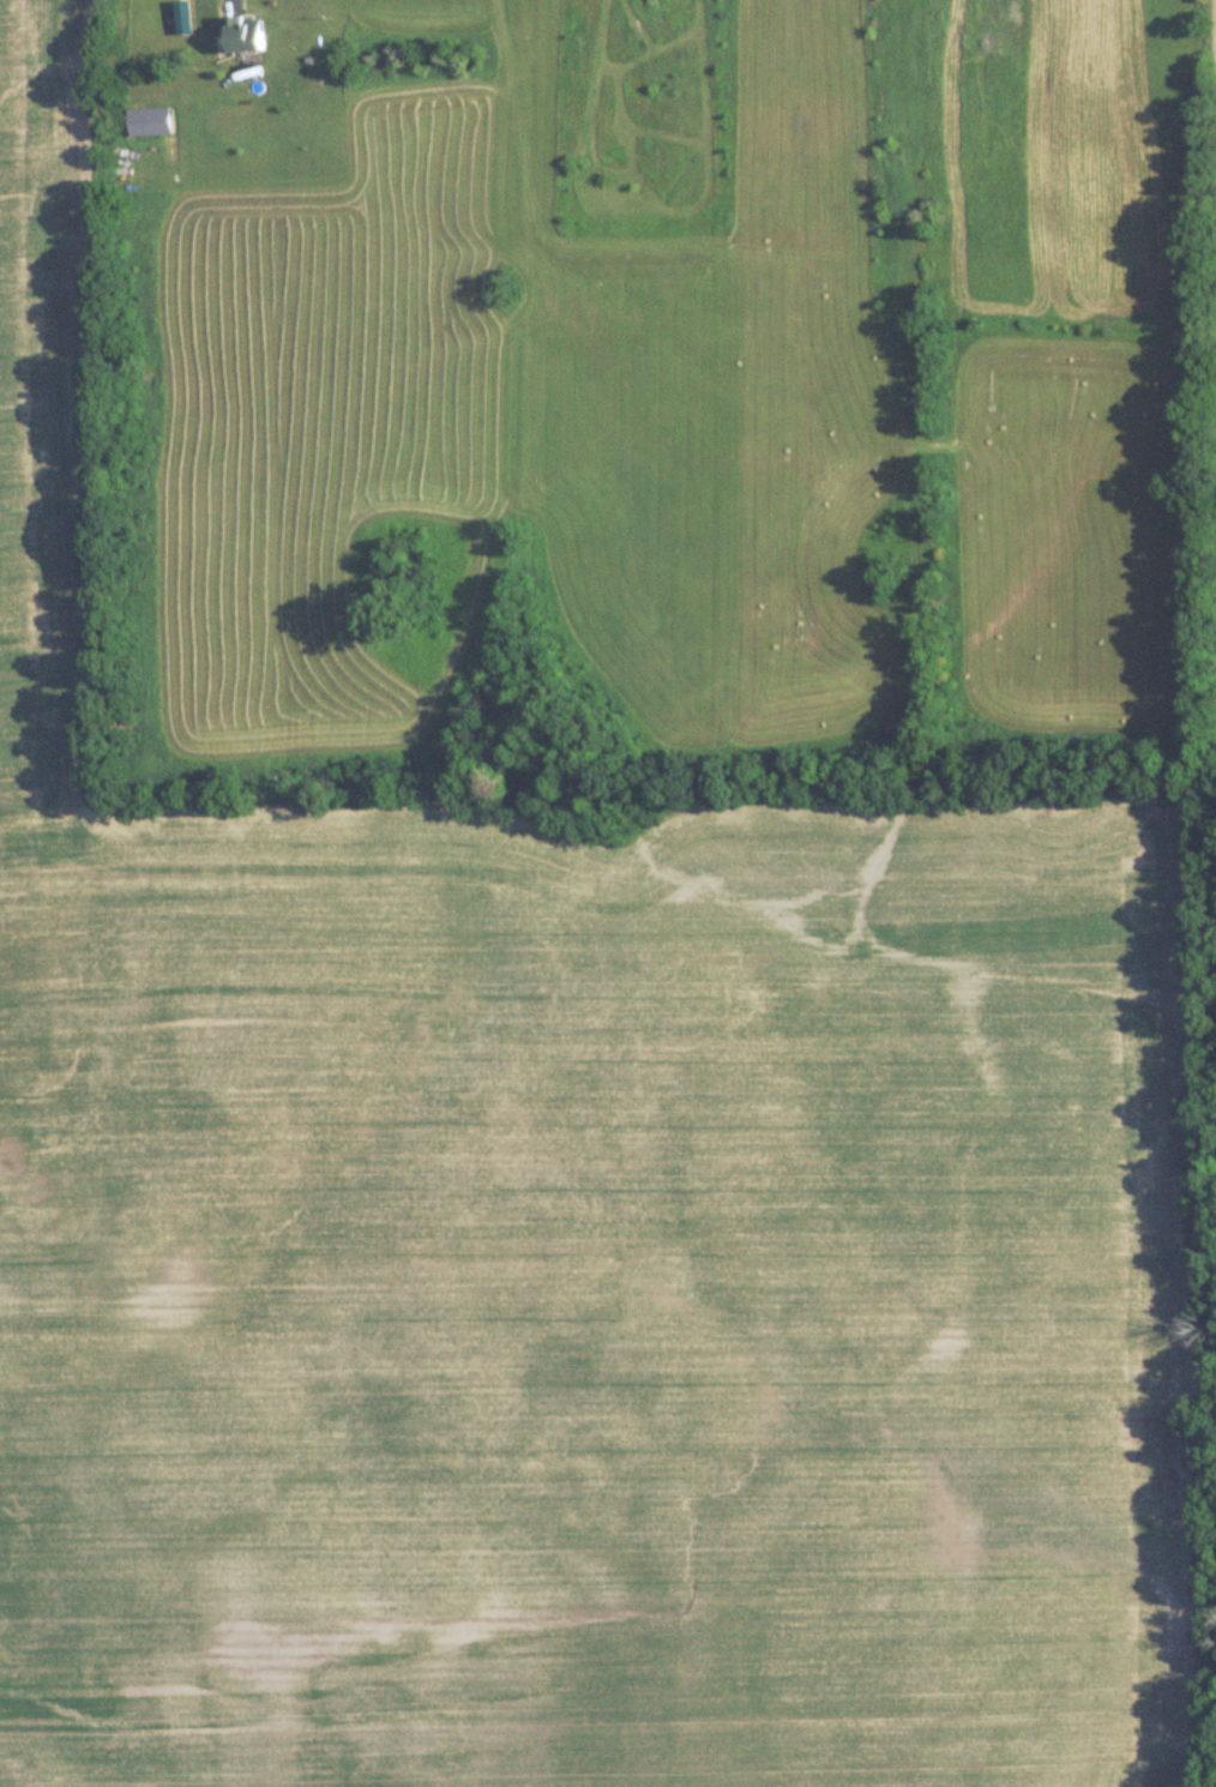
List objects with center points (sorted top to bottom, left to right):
building: (243, 32)

